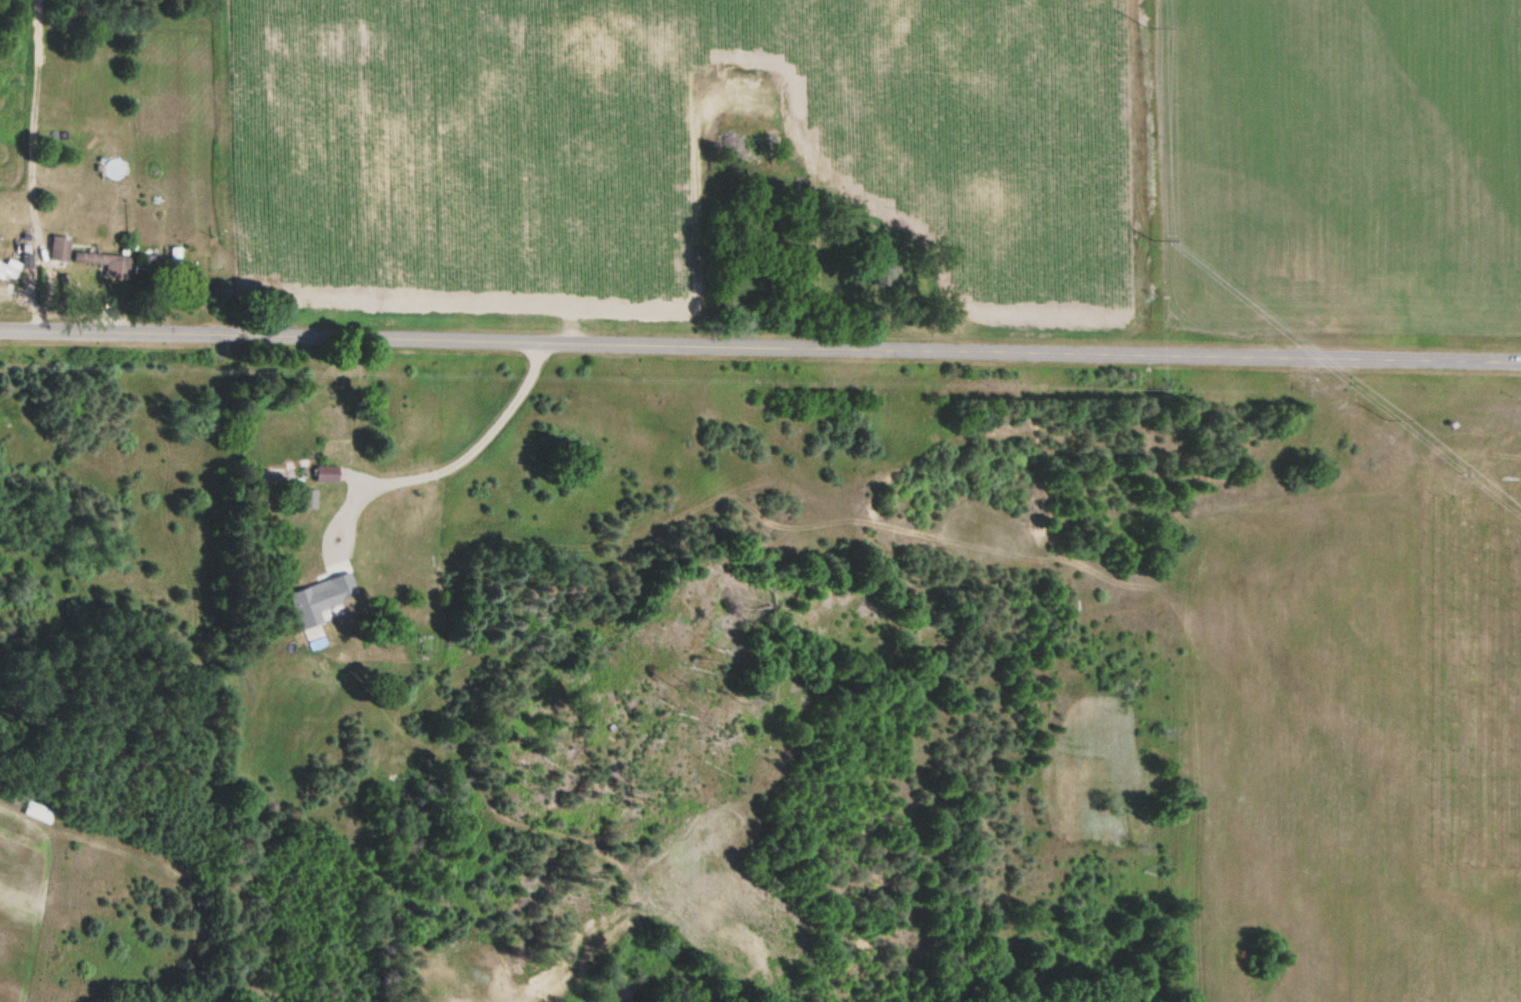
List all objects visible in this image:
building: (744, 146)
building: (113, 169)
building: (172, 258)
building: (99, 260)
building: (8, 268)
road: (760, 344)
building: (335, 428)
building: (326, 473)
building: (307, 498)
building: (394, 499)
building: (305, 606)

